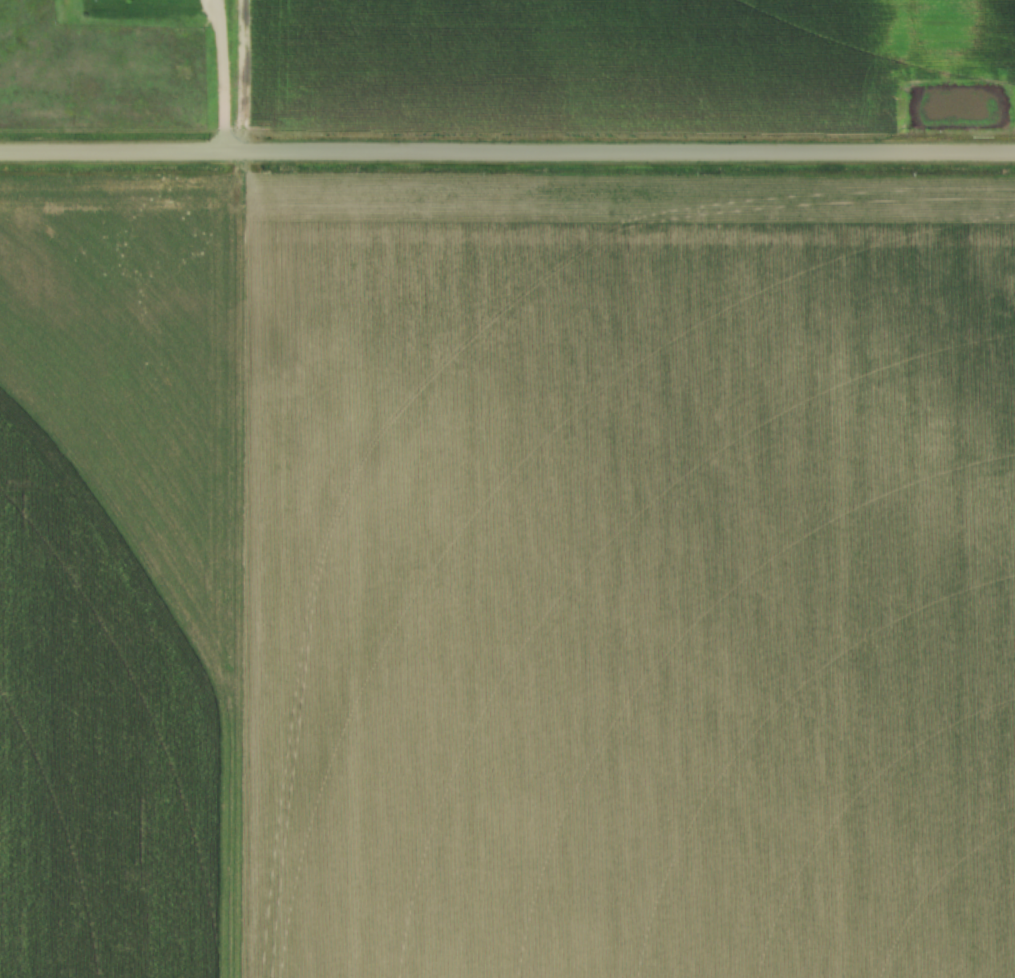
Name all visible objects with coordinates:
crop: (610, 59)
road: (220, 75)
road: (507, 153)
crop: (507, 577)

